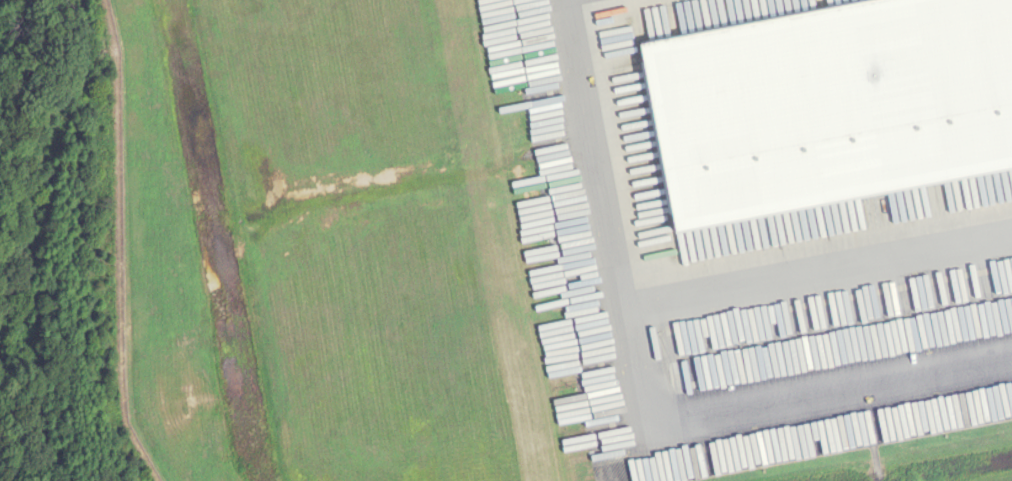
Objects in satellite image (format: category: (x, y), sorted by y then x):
building: (831, 110)
road: (596, 155)
road: (818, 273)
road: (776, 402)

